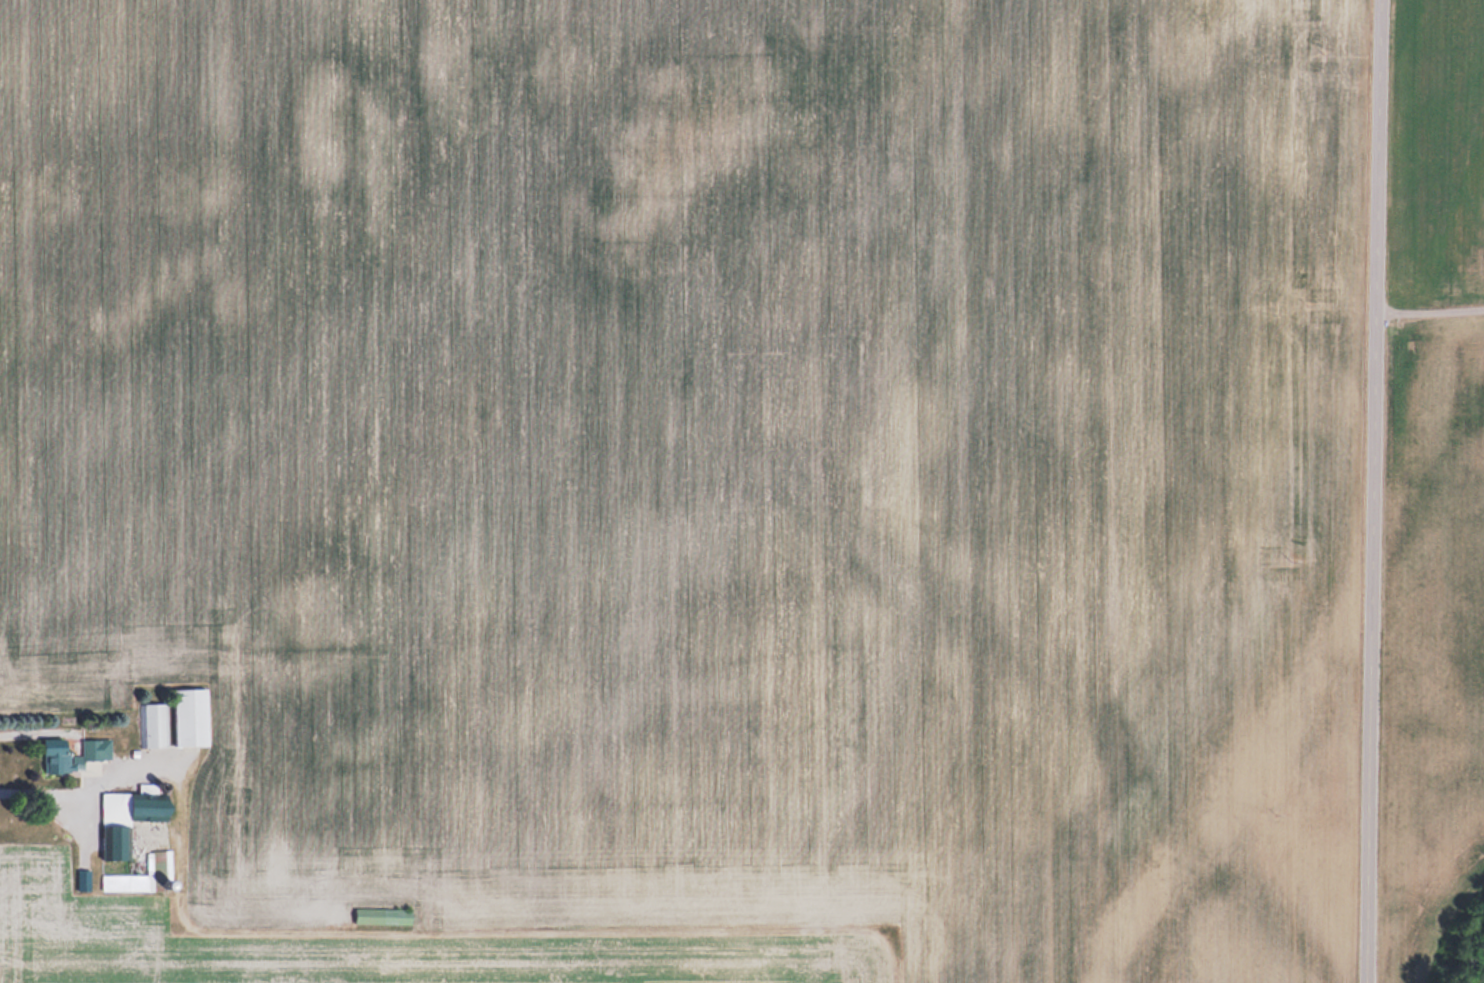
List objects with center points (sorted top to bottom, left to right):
road: (1374, 491)
building: (190, 717)
building: (154, 725)
building: (72, 754)
building: (128, 817)
building: (82, 880)
building: (126, 882)
building: (382, 915)

